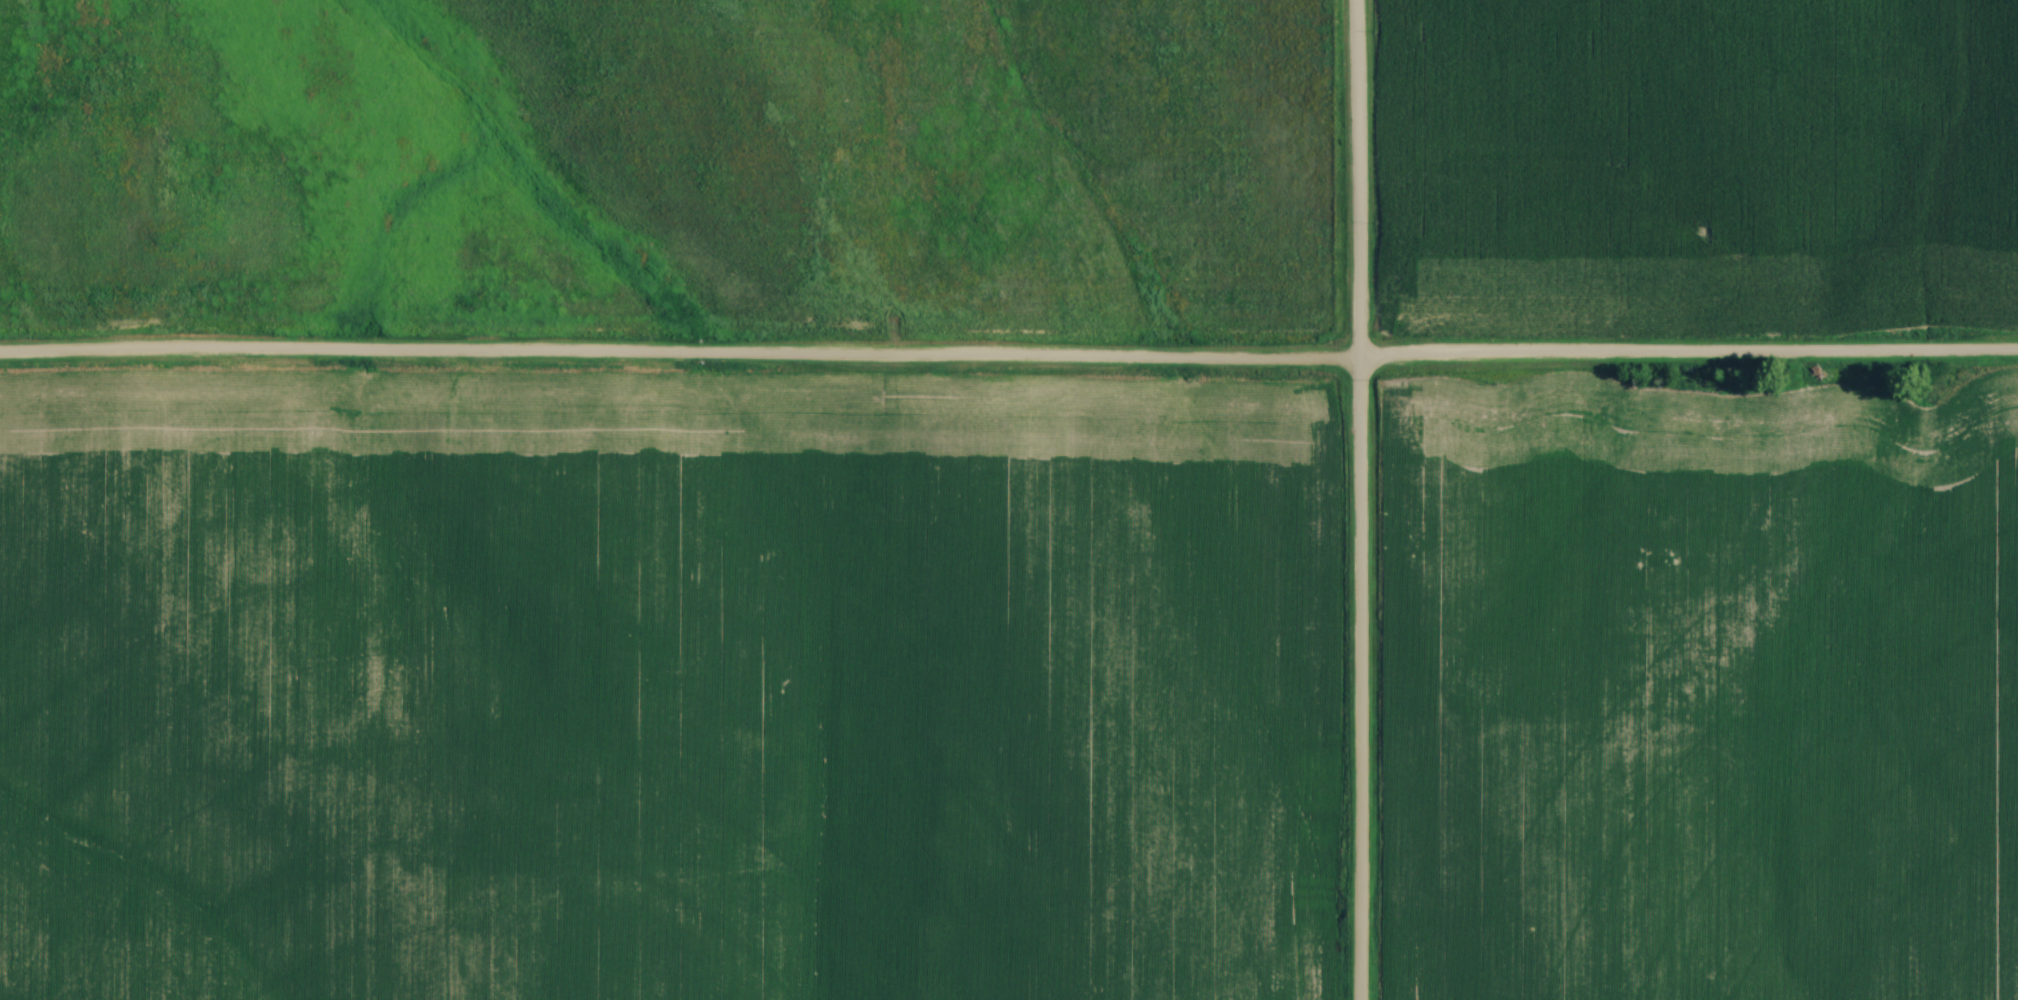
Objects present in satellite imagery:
road: (1009, 359)
road: (1763, 488)
road: (1355, 499)

